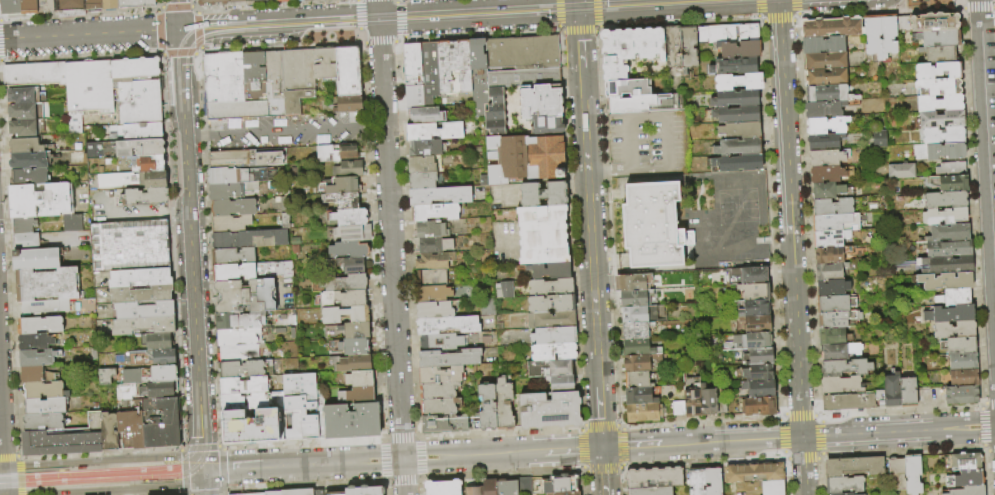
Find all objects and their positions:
building: (236, 0)
building: (254, 0)
building: (282, 0)
building: (296, 0)
road: (395, 1)
building: (211, 2)
building: (134, 3)
road: (193, 3)
road: (957, 3)
building: (93, 4)
building: (109, 4)
road: (156, 4)
road: (276, 4)
road: (577, 4)
building: (70, 5)
building: (10, 6)
building: (28, 6)
building: (44, 6)
road: (193, 6)
road: (796, 6)
road: (175, 7)
road: (959, 7)
road: (993, 7)
road: (158, 8)
traffic signals: (578, 8)
road: (756, 8)
road: (977, 8)
road: (196, 11)
road: (876, 11)
road: (78, 12)
road: (557, 12)
railway: (415, 13)
road: (596, 13)
road: (357, 14)
road: (177, 15)
road: (449, 15)
road: (796, 15)
railway: (482, 16)
road: (757, 18)
road: (399, 19)
road: (793, 19)
road: (760, 20)
road: (777, 20)
building: (934, 22)
road: (680, 23)
building: (902, 24)
road: (598, 27)
road: (599, 27)
building: (831, 27)
road: (558, 28)
road: (198, 29)
traffic signals: (178, 30)
road: (157, 31)
road: (560, 31)
road: (577, 31)
building: (748, 31)
building: (717, 32)
road: (88, 34)
building: (888, 34)
road: (359, 35)
road: (481, 35)
building: (872, 36)
road: (403, 38)
road: (579, 38)
building: (939, 38)
road: (398, 40)
road: (379, 42)
road: (362, 43)
building: (822, 45)
road: (278, 46)
building: (672, 46)
building: (688, 46)
road: (198, 48)
building: (628, 49)
building: (739, 49)
road: (195, 52)
road: (159, 53)
building: (522, 53)
road: (161, 54)
road: (178, 54)
building: (940, 54)
road: (79, 57)
building: (824, 60)
building: (411, 63)
building: (324, 65)
building: (453, 66)
building: (733, 66)
building: (135, 70)
building: (937, 70)
building: (347, 72)
building: (429, 73)
building: (34, 74)
building: (824, 76)
building: (222, 77)
building: (253, 77)
building: (523, 77)
building: (478, 78)
building: (296, 80)
building: (738, 82)
building: (273, 84)
road: (199, 86)
building: (938, 86)
building: (626, 88)
building: (88, 91)
building: (826, 93)
building: (23, 95)
building: (413, 95)
building: (734, 98)
building: (496, 99)
building: (139, 102)
building: (646, 103)
building: (939, 103)
building: (348, 105)
building: (542, 108)
building: (831, 109)
building: (236, 110)
building: (22, 112)
building: (735, 114)
building: (426, 115)
road: (666, 117)
building: (941, 119)
building: (495, 122)
building: (825, 125)
road: (372, 126)
building: (23, 128)
road: (164, 130)
building: (740, 130)
road: (282, 131)
parking lot: (283, 131)
building: (433, 131)
building: (140, 132)
road: (203, 134)
road: (194, 136)
building: (943, 136)
building: (877, 139)
building: (824, 141)
parking lot: (647, 143)
building: (25, 145)
building: (140, 147)
building: (737, 147)
building: (424, 148)
building: (945, 151)
building: (336, 152)
building: (267, 157)
building: (228, 158)
building: (524, 158)
building: (825, 158)
building: (30, 160)
building: (737, 163)
building: (147, 164)
building: (421, 164)
road: (985, 164)
building: (347, 169)
building: (950, 169)
road: (608, 170)
building: (899, 170)
building: (826, 173)
building: (226, 175)
building: (28, 177)
building: (117, 180)
building: (153, 180)
building: (422, 180)
building: (950, 183)
building: (340, 185)
building: (230, 190)
building: (830, 191)
building: (542, 194)
building: (438, 195)
building: (144, 197)
building: (343, 200)
building: (945, 200)
building: (41, 201)
building: (831, 206)
road: (970, 206)
building: (233, 207)
road: (744, 208)
parking lot: (118, 209)
road: (169, 211)
building: (434, 211)
road: (178, 212)
road: (130, 215)
building: (943, 216)
building: (350, 217)
road: (770, 217)
road: (805, 217)
road: (789, 218)
building: (831, 221)
building: (230, 223)
building: (651, 225)
building: (23, 226)
road: (609, 226)
road: (590, 227)
road: (390, 229)
building: (429, 229)
road: (570, 229)
building: (352, 233)
building: (949, 233)
building: (542, 234)
building: (833, 237)
building: (248, 238)
building: (25, 242)
building: (432, 244)
railway: (186, 245)
building: (129, 246)
building: (948, 248)
building: (348, 249)
road: (190, 250)
railway: (194, 252)
road: (768, 252)
road: (722, 254)
building: (831, 254)
building: (232, 255)
building: (36, 259)
building: (433, 260)
building: (944, 264)
building: (353, 266)
building: (251, 270)
building: (549, 270)
building: (829, 270)
building: (430, 276)
building: (748, 276)
building: (140, 277)
building: (945, 281)
building: (632, 282)
building: (339, 283)
building: (47, 285)
building: (550, 287)
building: (831, 287)
road: (9, 288)
building: (502, 289)
building: (754, 291)
building: (432, 293)
building: (140, 294)
building: (245, 295)
road: (213, 296)
building: (954, 297)
building: (342, 298)
building: (633, 298)
building: (550, 303)
building: (834, 303)
building: (485, 306)
building: (44, 307)
building: (754, 308)
building: (435, 309)
building: (144, 310)
building: (345, 314)
building: (638, 314)
building: (949, 314)
building: (836, 318)
building: (239, 320)
building: (550, 320)
building: (447, 324)
building: (756, 324)
building: (40, 325)
building: (143, 325)
building: (349, 330)
building: (636, 330)
building: (953, 330)
road: (176, 333)
building: (554, 335)
building: (238, 336)
building: (833, 336)
building: (753, 340)
building: (34, 341)
building: (156, 341)
building: (440, 342)
building: (958, 345)
building: (354, 346)
building: (638, 348)
building: (553, 351)
building: (839, 351)
building: (239, 353)
building: (757, 356)
building: (36, 357)
building: (148, 357)
building: (449, 358)
building: (962, 361)
building: (639, 362)
building: (353, 363)
building: (845, 367)
building: (245, 368)
building: (549, 368)
building: (756, 372)
building: (158, 374)
building: (35, 375)
building: (440, 375)
building: (106, 376)
building: (131, 376)
building: (963, 377)
building: (359, 379)
building: (637, 380)
building: (560, 383)
building: (243, 385)
building: (840, 385)
building: (761, 388)
building: (45, 390)
building: (158, 390)
building: (437, 390)
building: (891, 390)
building: (124, 391)
building: (907, 392)
building: (360, 394)
building: (961, 394)
building: (639, 396)
building: (251, 401)
building: (707, 401)
building: (849, 401)
road: (989, 402)
building: (692, 403)
road: (981, 403)
building: (504, 404)
building: (300, 405)
building: (46, 406)
building: (438, 406)
building: (758, 406)
building: (721, 407)
building: (486, 408)
building: (678, 408)
building: (549, 410)
road: (899, 410)
building: (642, 412)
road: (779, 414)
road: (798, 414)
road: (816, 415)
road: (600, 417)
building: (348, 421)
building: (44, 422)
building: (161, 423)
road: (699, 423)
building: (444, 424)
building: (130, 425)
building: (250, 426)
road: (601, 426)
road: (981, 426)
road: (954, 427)
road: (622, 428)
building: (104, 429)
road: (581, 429)
road: (500, 431)
road: (858, 433)
road: (780, 435)
road: (401, 437)
road: (821, 437)
road: (419, 438)
road: (383, 440)
road: (733, 440)
building: (62, 441)
road: (304, 441)
road: (219, 446)
road: (634, 446)
road: (1, 447)
road: (200, 447)
road: (623, 447)
road: (221, 448)
road: (582, 448)
traffic signals: (602, 448)
road: (572, 449)
road: (983, 449)
road: (991, 450)
road: (100, 452)
road: (902, 452)
road: (473, 455)
road: (784, 455)
road: (819, 456)
road: (8, 457)
road: (20, 458)
road: (420, 458)
road: (801, 458)
road: (104, 460)
road: (384, 460)
road: (332, 462)
road: (704, 462)
building: (959, 462)
road: (1, 466)
road: (803, 466)
railway: (67, 467)
road: (622, 467)
building: (851, 467)
railway: (57, 468)
road: (232, 468)
road: (223, 469)
road: (603, 469)
road: (39, 470)
road: (184, 470)
traffic signals: (203, 470)
road: (584, 470)
railway: (96, 471)
road: (603, 471)
building: (750, 473)
road: (986, 473)
road: (501, 474)
road: (101, 475)
building: (894, 475)
building: (910, 475)
road: (403, 476)
road: (785, 476)
road: (818, 476)
road: (21, 477)
building: (652, 478)
railway: (102, 479)
building: (964, 479)
road: (3, 480)
railway: (152, 480)
road: (386, 480)
road: (420, 480)
road: (170, 481)
road: (403, 481)
road: (622, 481)
building: (694, 481)
road: (203, 482)
building: (710, 482)
building: (559, 483)
road: (304, 484)
building: (523, 485)
building: (841, 485)
railway: (24, 487)
building: (442, 487)
building: (488, 487)
building: (506, 487)
building: (770, 488)
road: (23, 489)
road: (123, 489)
building: (364, 490)
building: (472, 490)
road: (224, 491)
building: (650, 491)
building: (966, 491)
road: (118, 492)
building: (296, 492)
building: (317, 492)
road: (185, 493)
road: (221, 493)
building: (272, 493)
building: (335, 493)
building: (563, 493)
road: (211, 494)
road: (222, 494)
building: (251, 494)
building: (841, 494)

